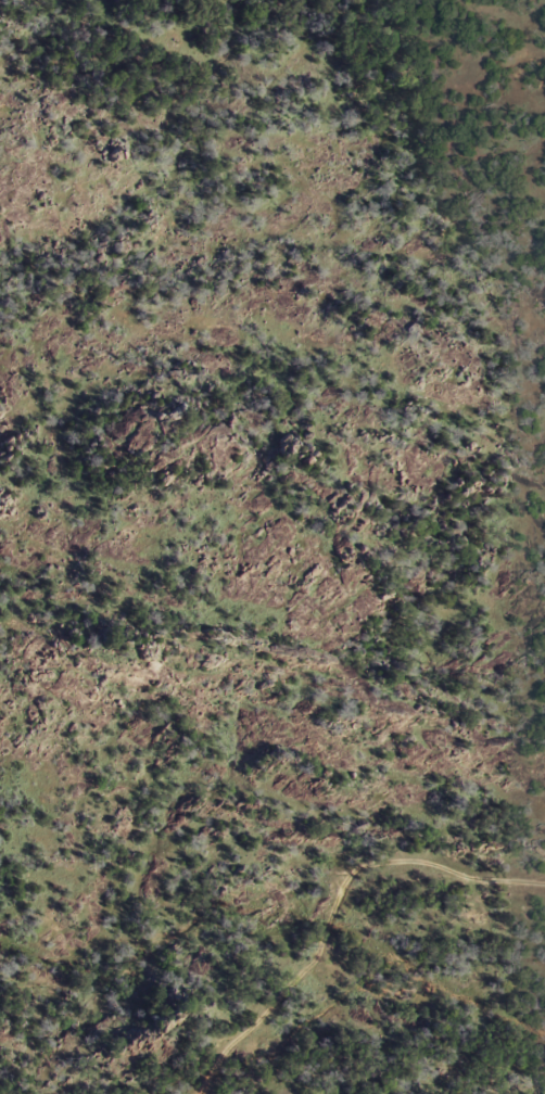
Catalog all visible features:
road: (337, 904)

